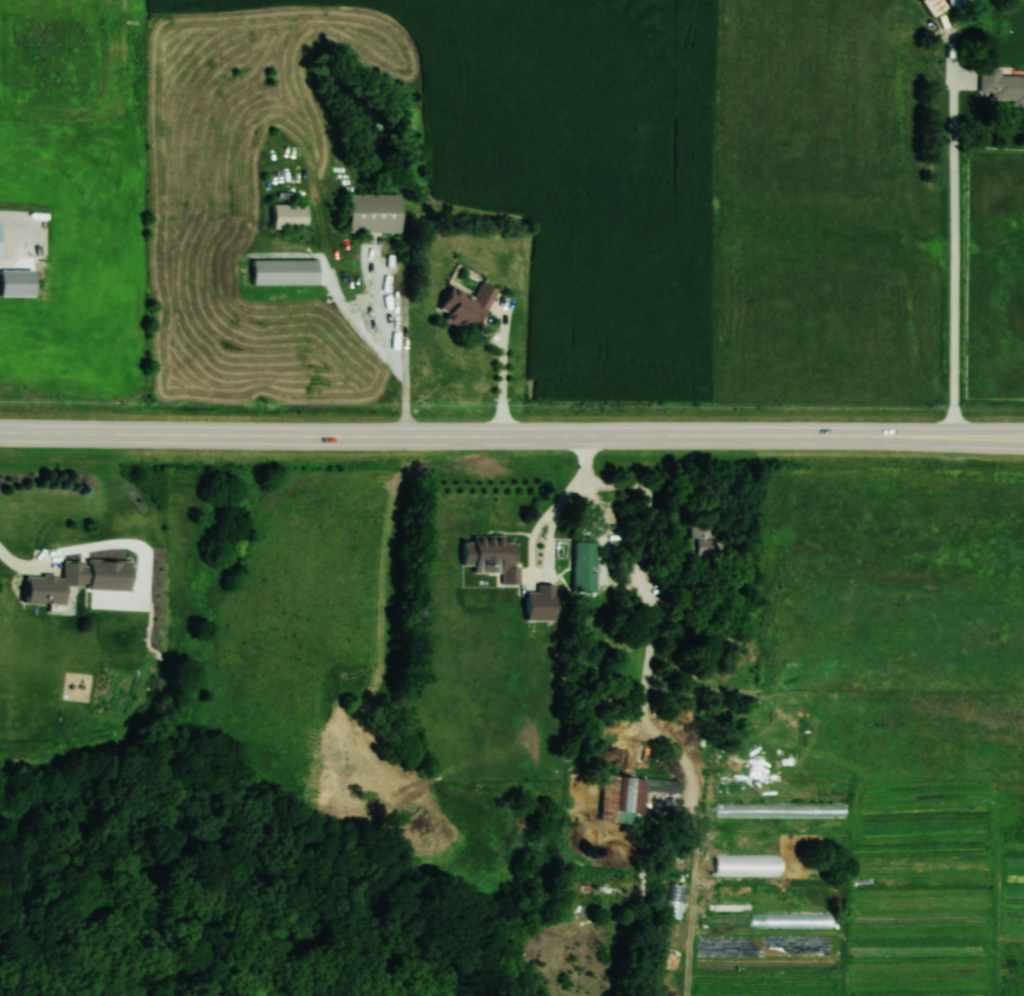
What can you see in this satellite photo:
building: (961, 3)
building: (936, 6)
building: (1003, 85)
building: (374, 213)
building: (290, 216)
road: (954, 251)
building: (469, 305)
road: (394, 344)
road: (501, 375)
road: (512, 436)
building: (960, 517)
road: (534, 535)
building: (701, 536)
building: (586, 554)
building: (494, 556)
road: (25, 567)
building: (55, 583)
building: (543, 602)
building: (729, 786)
building: (633, 796)
building: (726, 809)
building: (749, 863)
building: (675, 899)

